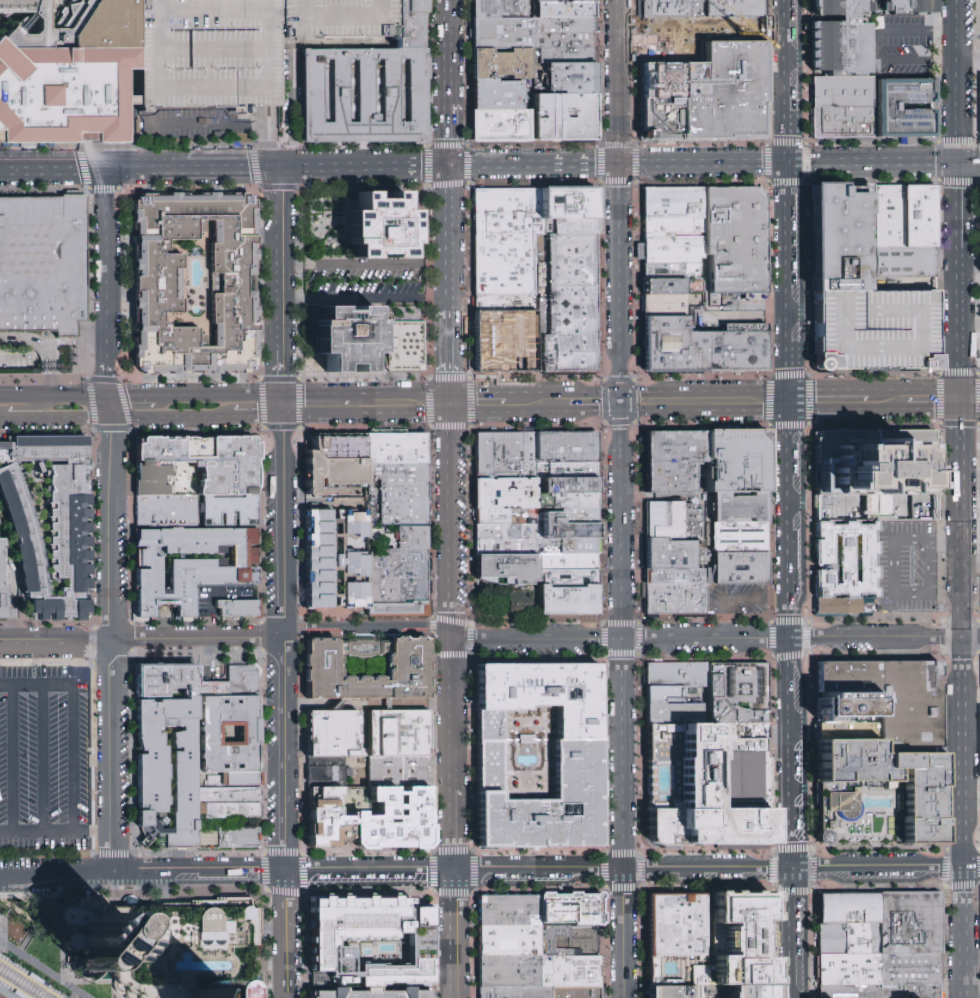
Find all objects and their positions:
building: (672, 1)
building: (558, 2)
building: (839, 6)
building: (907, 7)
building: (498, 9)
building: (734, 10)
building: (563, 11)
building: (672, 12)
building: (333, 18)
parking lot: (333, 18)
building: (407, 25)
building: (561, 25)
building: (501, 33)
building: (696, 37)
building: (561, 40)
road: (875, 44)
parking lot: (906, 46)
building: (842, 47)
road: (448, 52)
building: (561, 55)
road: (968, 59)
building: (501, 64)
building: (568, 77)
building: (842, 92)
building: (708, 93)
building: (496, 95)
building: (363, 97)
building: (911, 106)
building: (562, 116)
building: (842, 121)
building: (499, 125)
road: (449, 135)
road: (956, 162)
traffic signals: (956, 162)
traffic signals: (788, 163)
road: (489, 164)
traffic signals: (622, 164)
traffic signals: (450, 165)
traffic signals: (281, 167)
traffic signals: (109, 168)
road: (622, 200)
building: (671, 201)
building: (568, 209)
building: (906, 217)
building: (670, 224)
building: (379, 227)
building: (732, 236)
road: (450, 238)
building: (845, 239)
building: (503, 240)
building: (671, 247)
road: (365, 263)
building: (906, 265)
building: (42, 266)
building: (670, 270)
road: (976, 274)
parking lot: (363, 280)
road: (110, 281)
building: (157, 284)
road: (281, 285)
building: (565, 286)
building: (661, 286)
road: (366, 298)
building: (503, 303)
building: (663, 304)
road: (801, 312)
road: (969, 324)
building: (873, 330)
parking lot: (873, 330)
road: (959, 335)
building: (345, 336)
building: (504, 341)
building: (671, 343)
road: (946, 345)
building: (735, 346)
building: (403, 347)
building: (566, 356)
road: (451, 357)
road: (959, 373)
road: (978, 373)
road: (66, 395)
traffic signals: (111, 395)
road: (135, 395)
road: (205, 395)
road: (11, 396)
road: (266, 398)
road: (970, 400)
road: (836, 401)
road: (895, 401)
road: (934, 401)
traffic signals: (961, 401)
road: (594, 402)
traffic signals: (623, 402)
road: (706, 402)
traffic signals: (789, 402)
road: (397, 403)
traffic signals: (451, 403)
road: (475, 403)
road: (532, 403)
traffic signals: (282, 404)
road: (313, 404)
road: (17, 405)
road: (111, 406)
road: (267, 413)
road: (55, 417)
traffic signals: (111, 417)
road: (169, 417)
road: (238, 417)
building: (395, 448)
building: (568, 448)
building: (678, 448)
building: (499, 455)
building: (531, 456)
building: (333, 463)
building: (197, 464)
building: (738, 464)
building: (568, 472)
building: (875, 476)
building: (672, 480)
building: (569, 486)
building: (400, 492)
building: (506, 493)
road: (789, 498)
building: (568, 500)
building: (741, 509)
building: (229, 510)
building: (165, 511)
building: (579, 515)
building: (493, 517)
road: (283, 520)
building: (51, 525)
building: (565, 529)
building: (411, 538)
building: (675, 538)
building: (380, 539)
building: (741, 539)
building: (506, 540)
building: (573, 546)
building: (333, 560)
building: (844, 560)
road: (970, 560)
building: (569, 564)
building: (193, 565)
parking lot: (906, 567)
building: (506, 569)
building: (740, 570)
road: (451, 575)
building: (675, 576)
building: (569, 579)
building: (396, 583)
building: (2, 591)
building: (518, 591)
building: (568, 599)
road: (720, 599)
parking lot: (738, 599)
park: (491, 600)
building: (678, 600)
building: (524, 602)
building: (846, 606)
building: (236, 608)
road: (210, 613)
road: (368, 626)
road: (960, 634)
road: (142, 637)
road: (620, 637)
road: (715, 638)
road: (110, 647)
building: (406, 666)
building: (166, 679)
building: (234, 682)
building: (676, 694)
building: (740, 694)
building: (894, 699)
road: (367, 706)
building: (848, 707)
building: (847, 729)
building: (397, 732)
building: (249, 734)
building: (333, 735)
building: (740, 741)
road: (42, 757)
road: (12, 758)
road: (71, 758)
building: (575, 766)
building: (172, 767)
road: (451, 768)
parking lot: (48, 769)
building: (398, 770)
building: (337, 773)
building: (887, 776)
building: (232, 779)
building: (706, 794)
building: (228, 796)
building: (230, 811)
building: (865, 812)
road: (285, 817)
building: (321, 820)
building: (393, 820)
road: (93, 830)
road: (451, 830)
building: (208, 838)
building: (239, 838)
road: (971, 868)
road: (537, 872)
road: (57, 878)
building: (849, 910)
building: (507, 911)
building: (569, 911)
building: (253, 914)
building: (677, 925)
building: (909, 925)
road: (963, 933)
road: (449, 934)
road: (622, 935)
building: (739, 938)
road: (31, 939)
building: (850, 940)
building: (507, 941)
building: (368, 944)
building: (165, 951)
road: (65, 955)
park: (41, 958)
road: (42, 970)
building: (571, 971)
building: (909, 971)
building: (510, 972)
building: (849, 972)
railway: (31, 977)
railway: (26, 981)
railway: (17, 986)
railway: (11, 990)
building: (517, 992)
building: (578, 992)
building: (670, 992)
building: (849, 992)
building: (910, 992)
building: (747, 993)
road: (5, 994)
building: (366, 994)
building: (256, 996)

